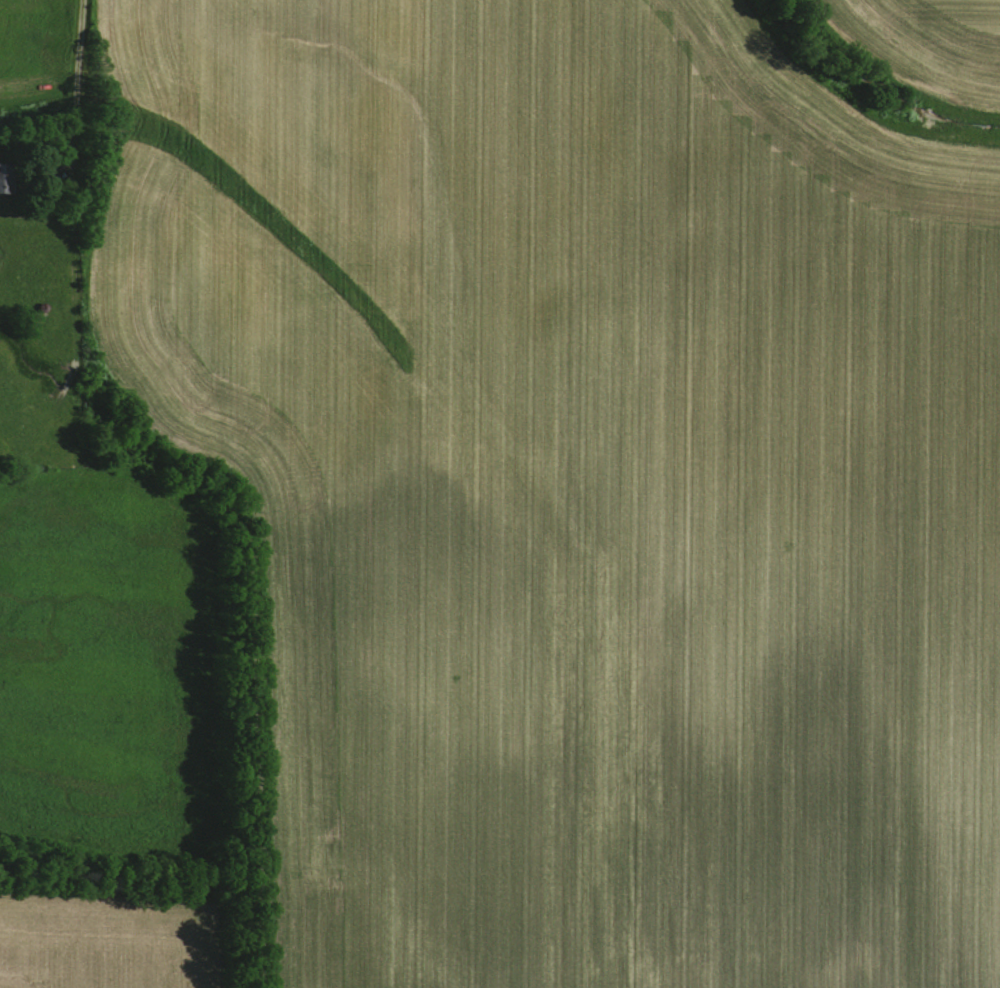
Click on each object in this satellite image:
road: (77, 41)

